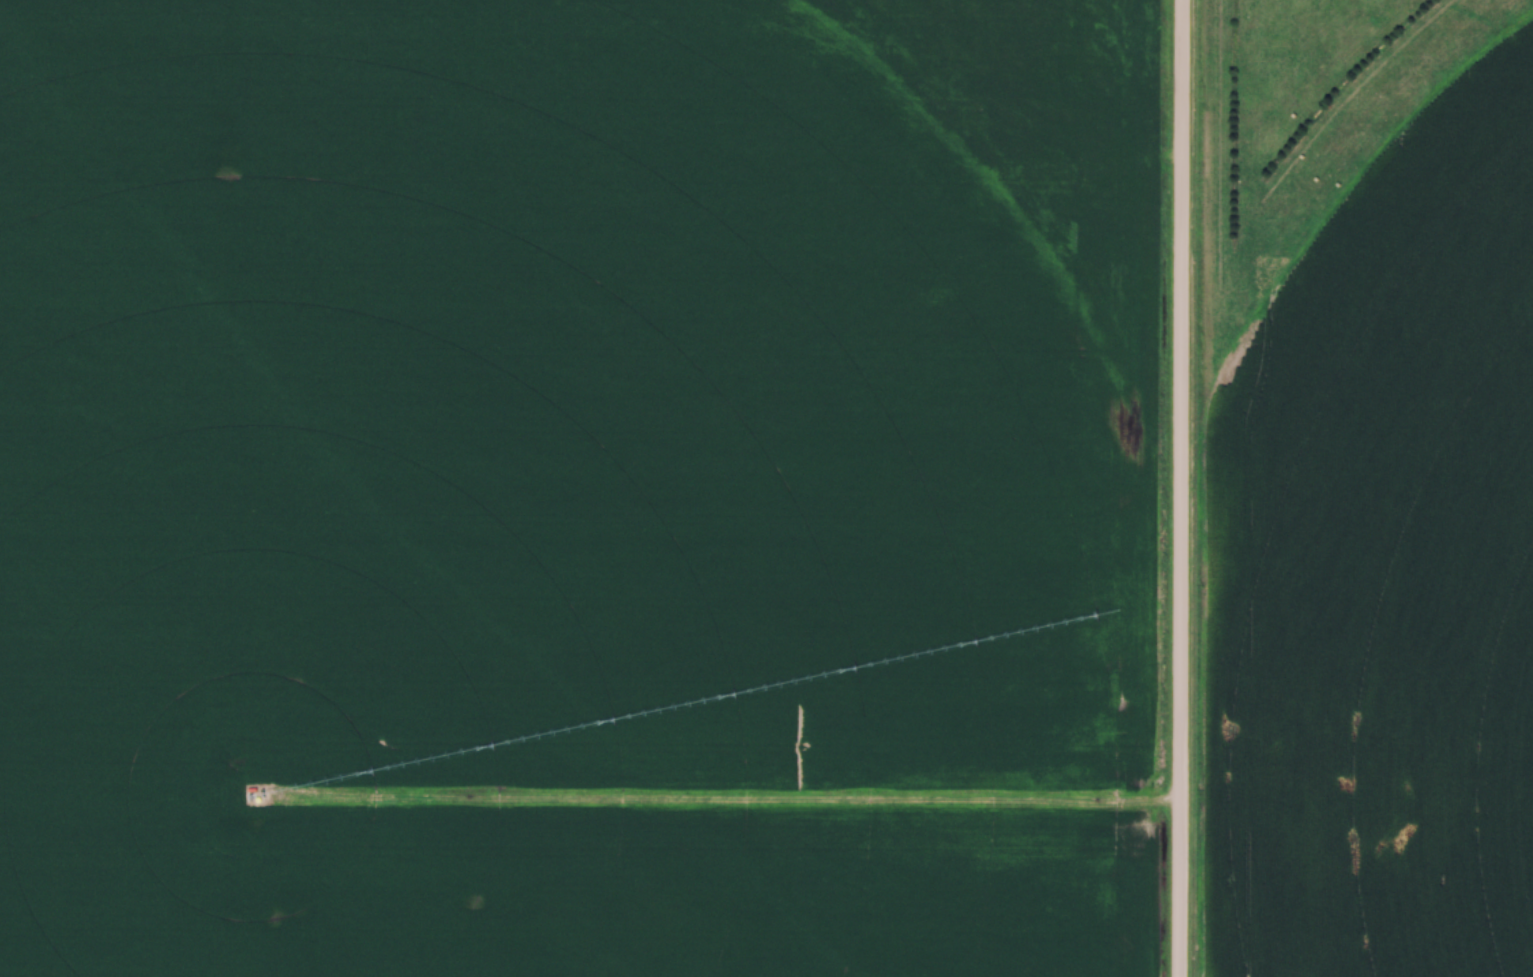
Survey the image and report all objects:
road: (1183, 488)

